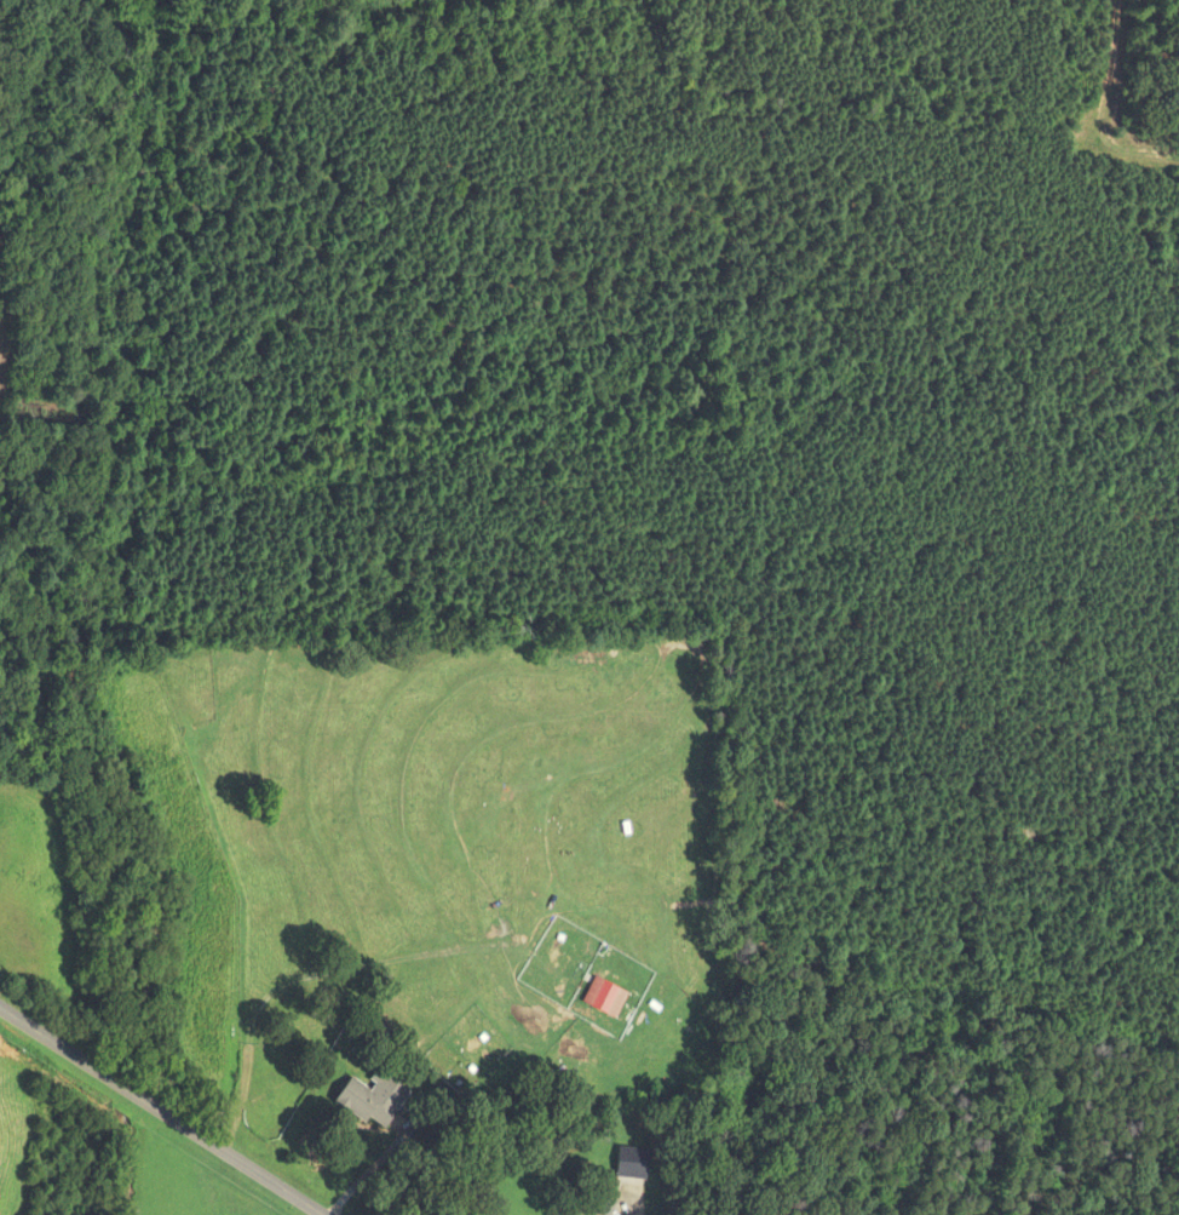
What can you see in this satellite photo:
building: (604, 997)
building: (366, 1105)
road: (157, 1112)
building: (632, 1164)
road: (379, 1170)

